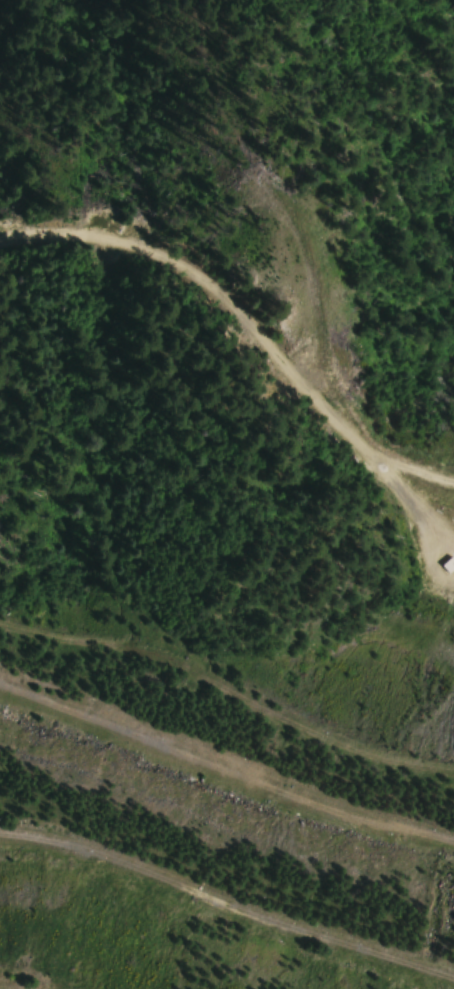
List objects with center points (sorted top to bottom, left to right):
road: (242, 321)
building: (448, 565)

